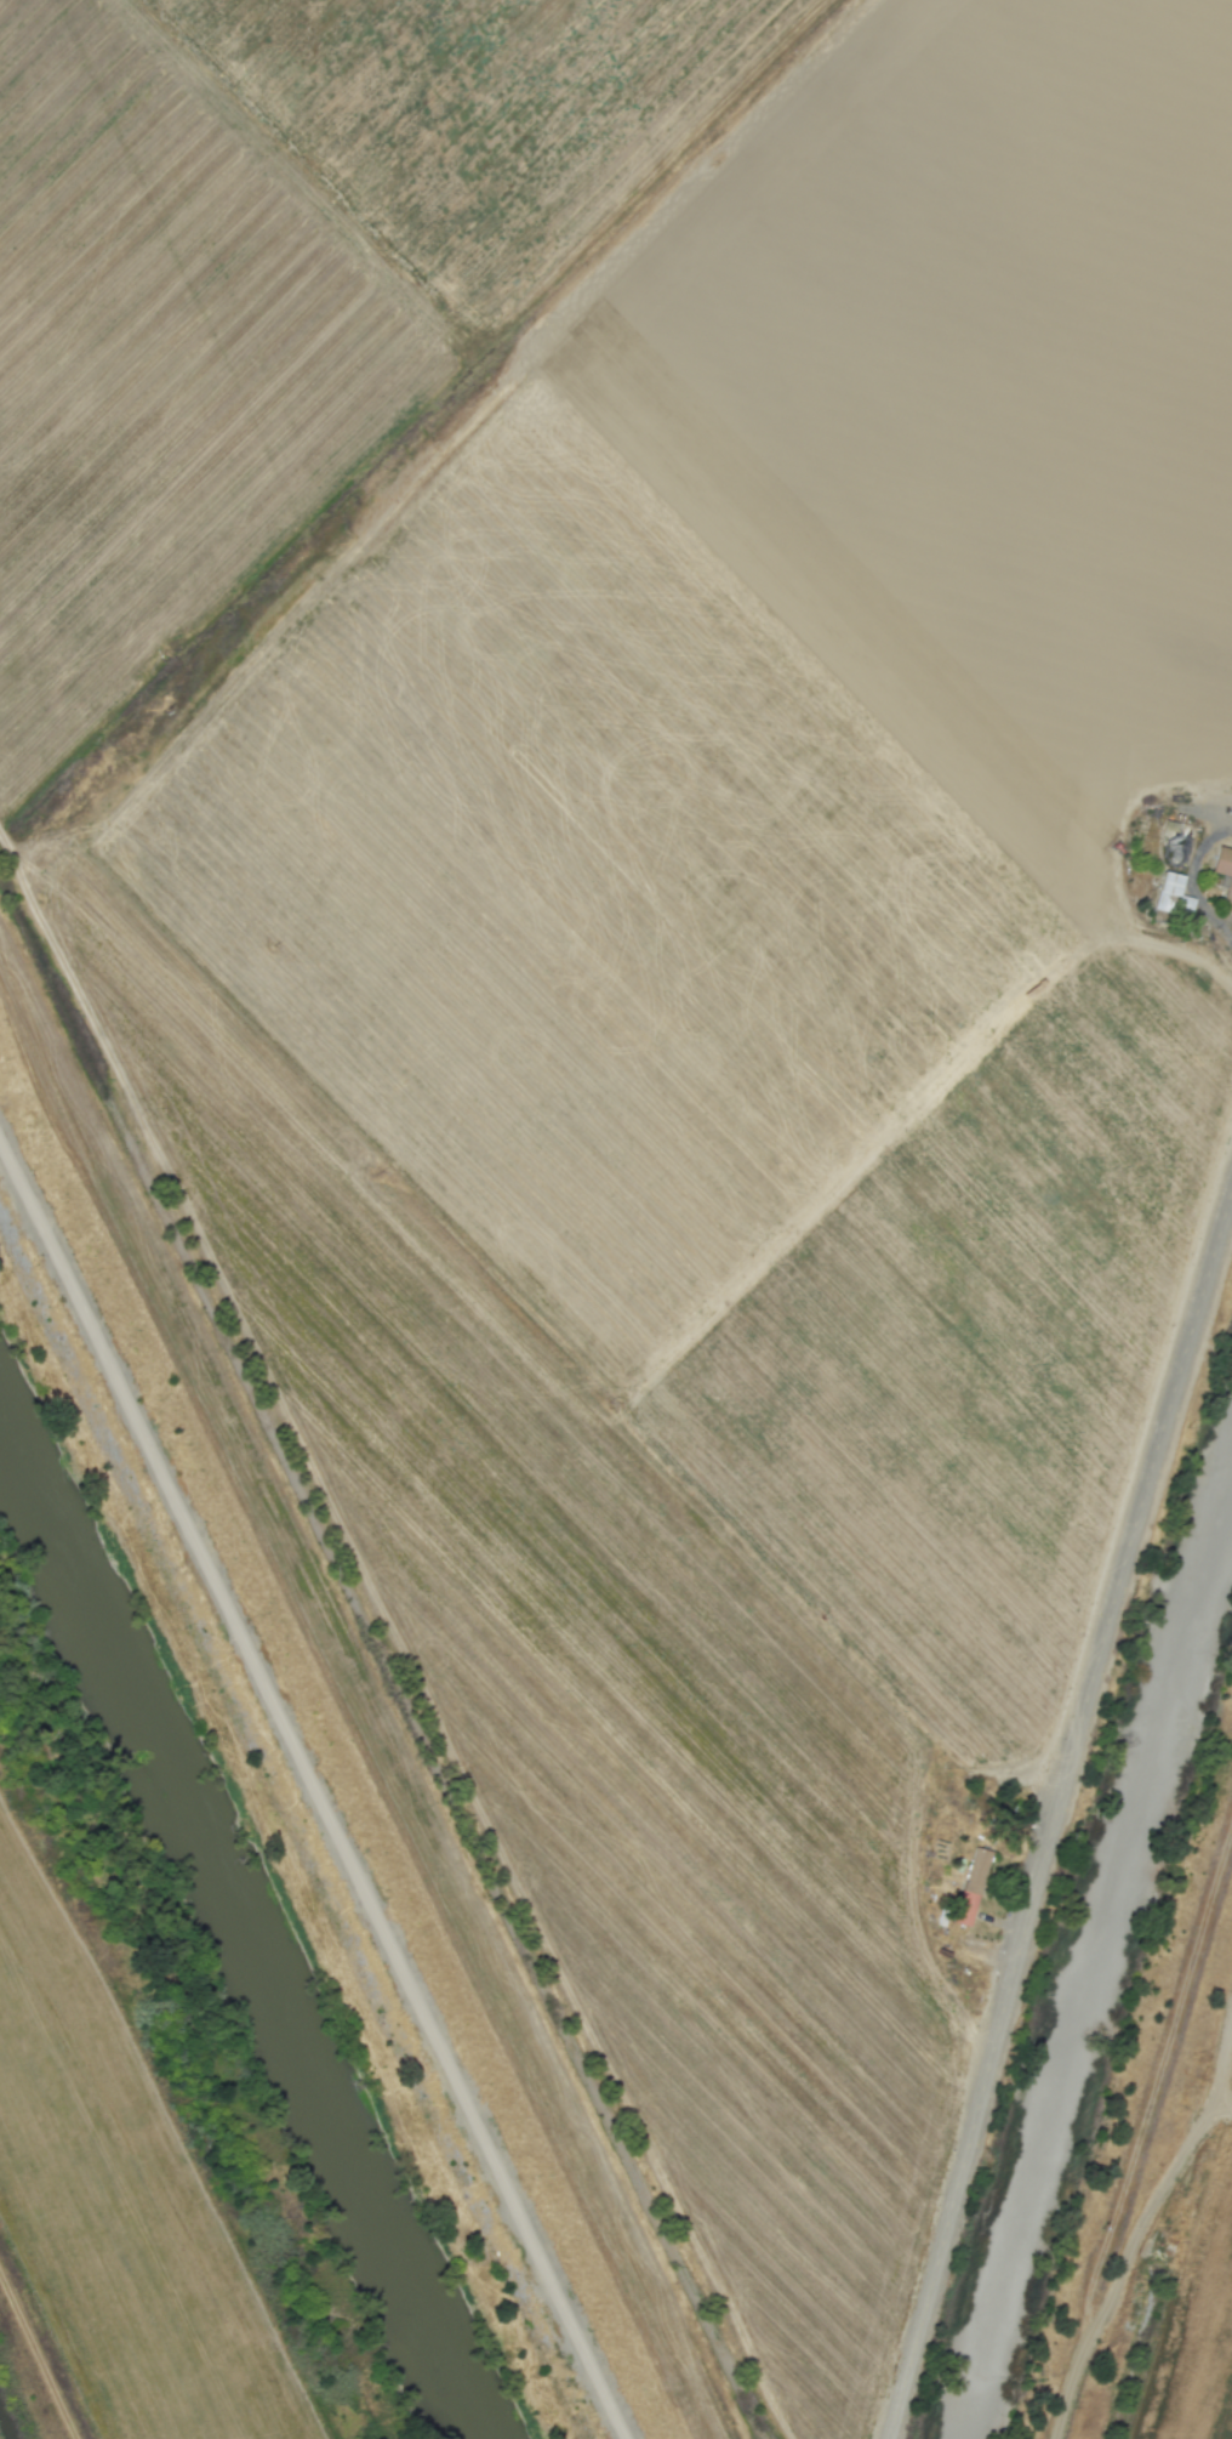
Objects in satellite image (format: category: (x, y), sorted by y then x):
building: (1224, 874)
road: (1192, 881)
building: (1165, 889)
crop: (643, 965)
road: (313, 1773)
road: (1055, 1824)
building: (971, 1886)
road: (1141, 2137)
crop: (130, 2173)
crop: (1191, 2293)

